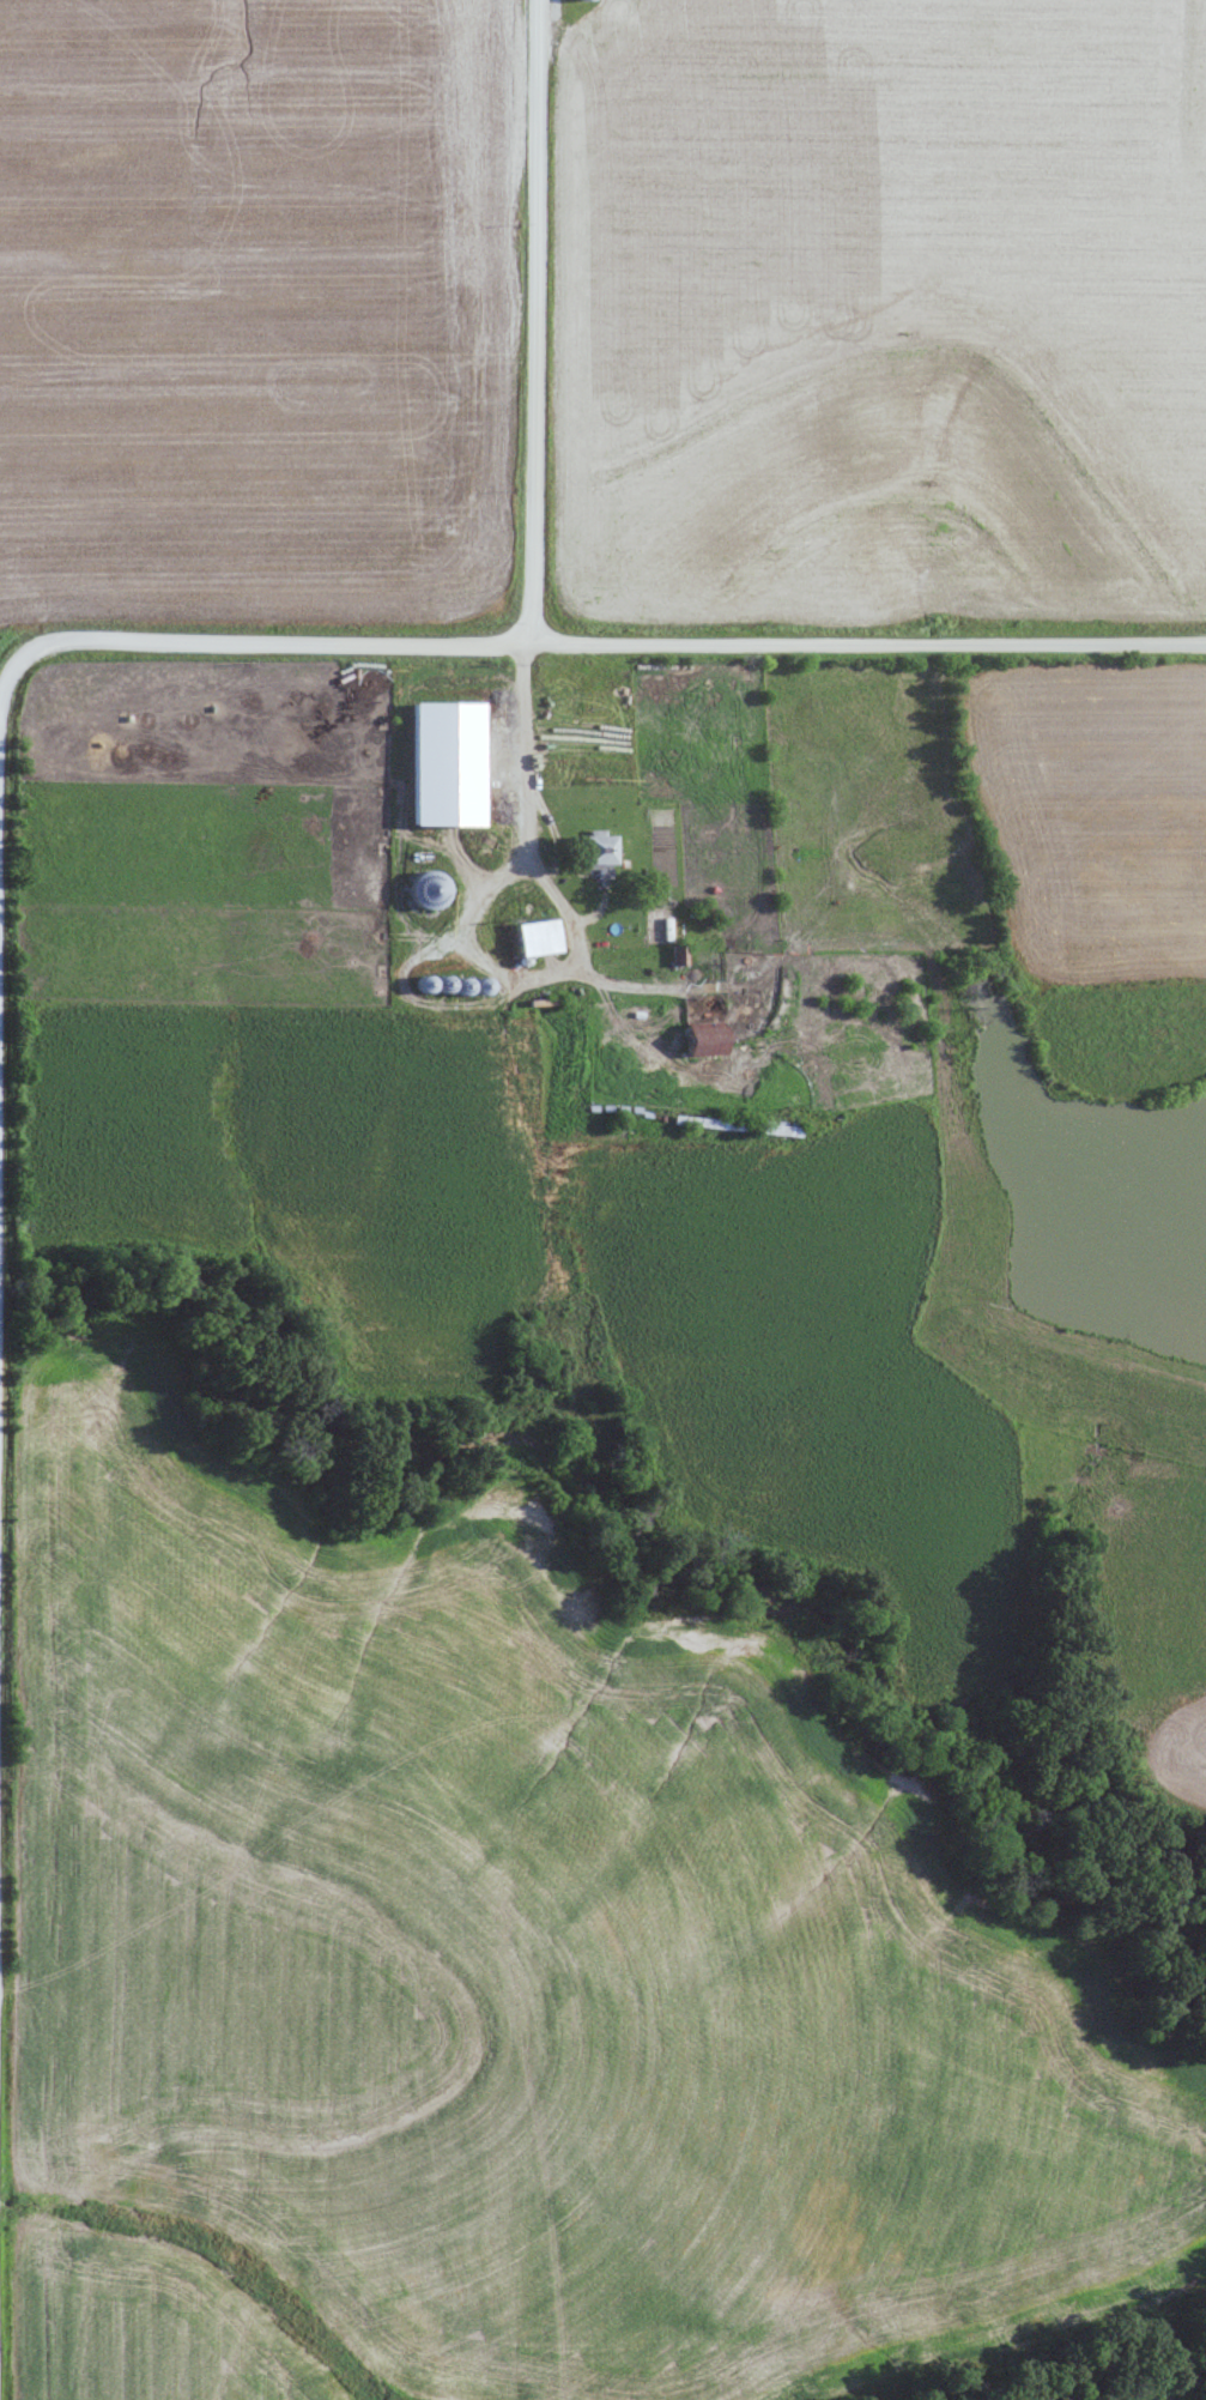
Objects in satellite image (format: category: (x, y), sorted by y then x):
road: (535, 320)
road: (640, 640)
road: (25, 652)
road: (525, 748)
building: (446, 763)
building: (598, 853)
building: (537, 937)
building: (704, 1039)

